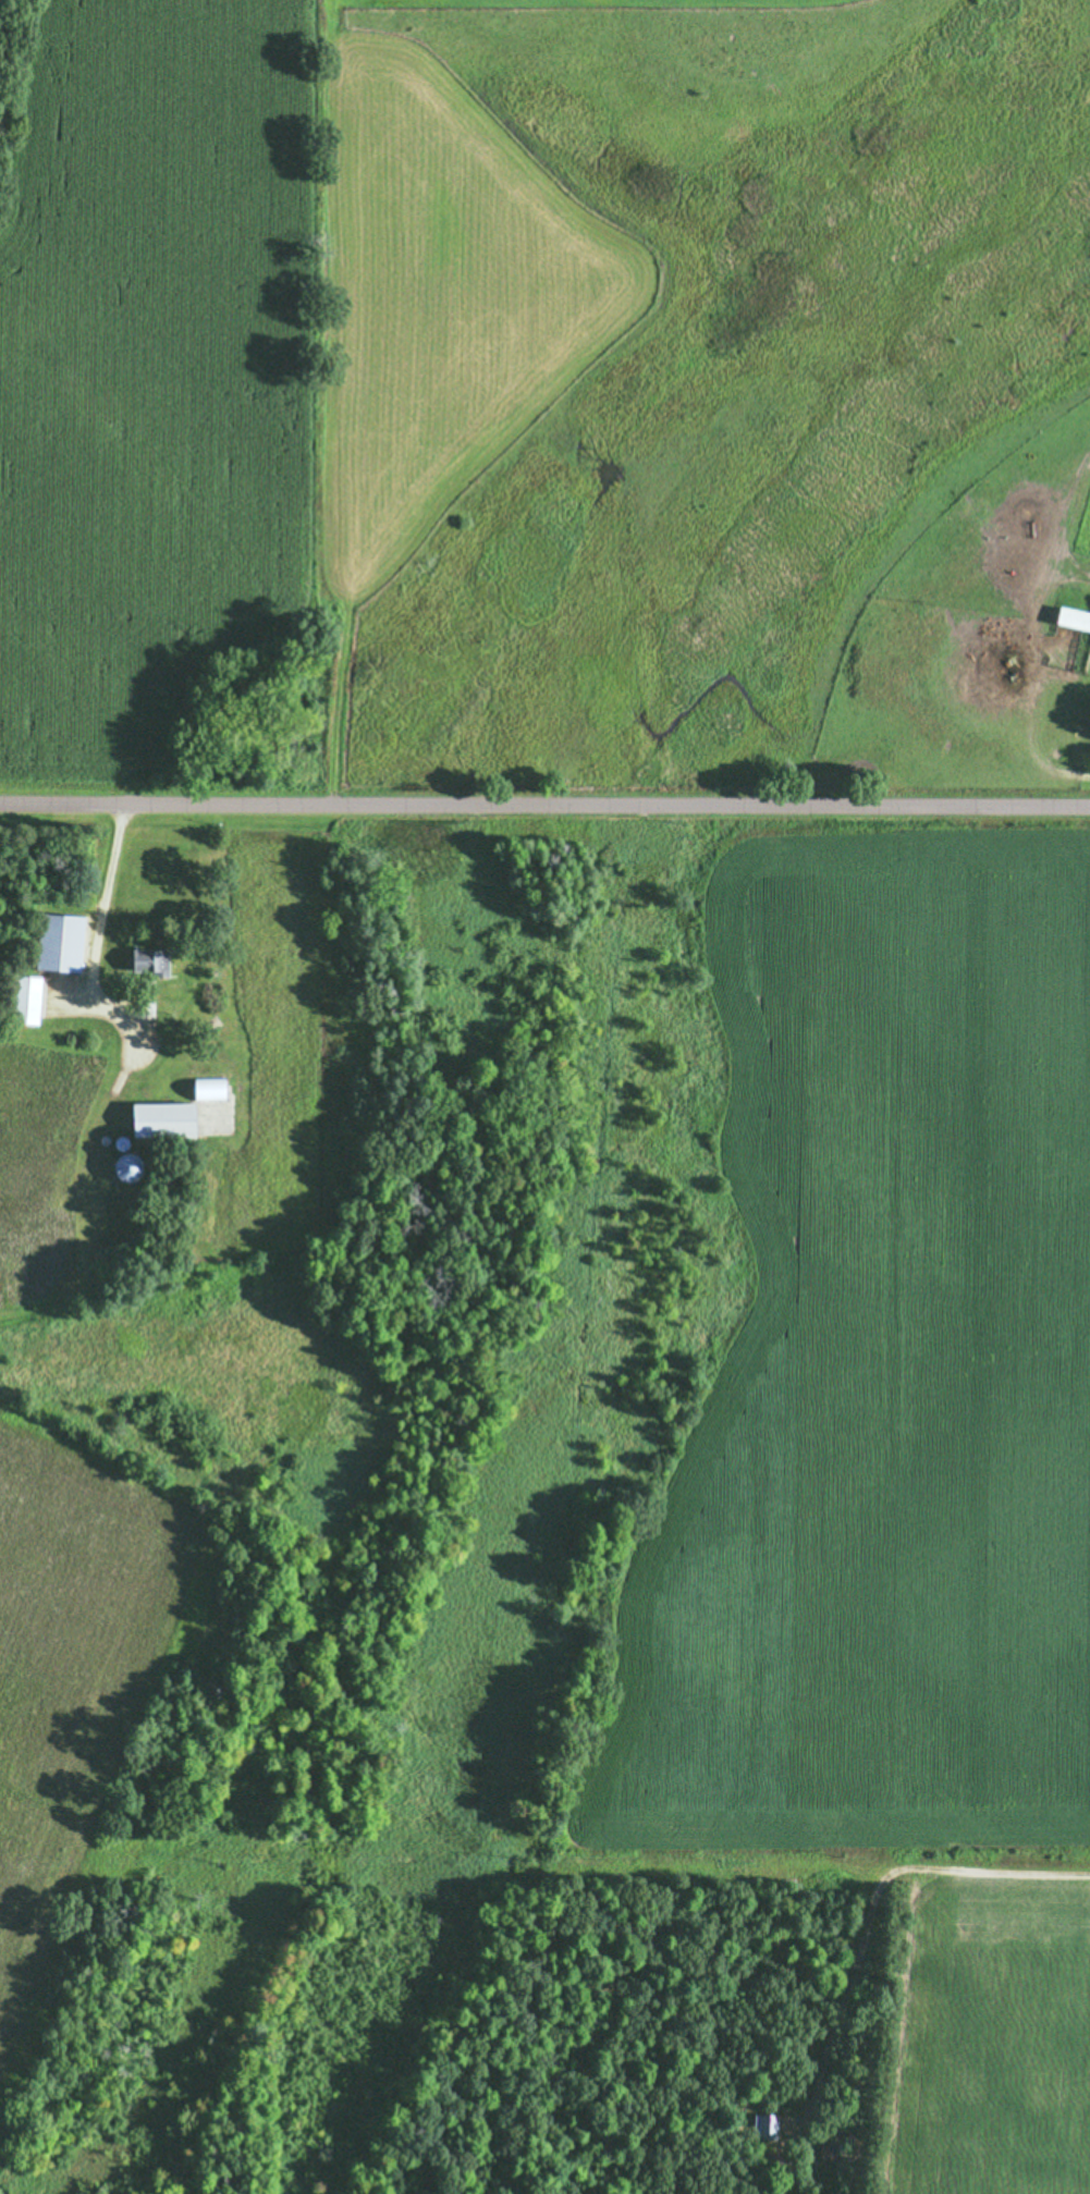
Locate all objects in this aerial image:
building: (1071, 617)
road: (544, 800)
building: (56, 941)
building: (145, 960)
building: (23, 998)
building: (205, 1087)
building: (158, 1119)
road: (871, 1901)

